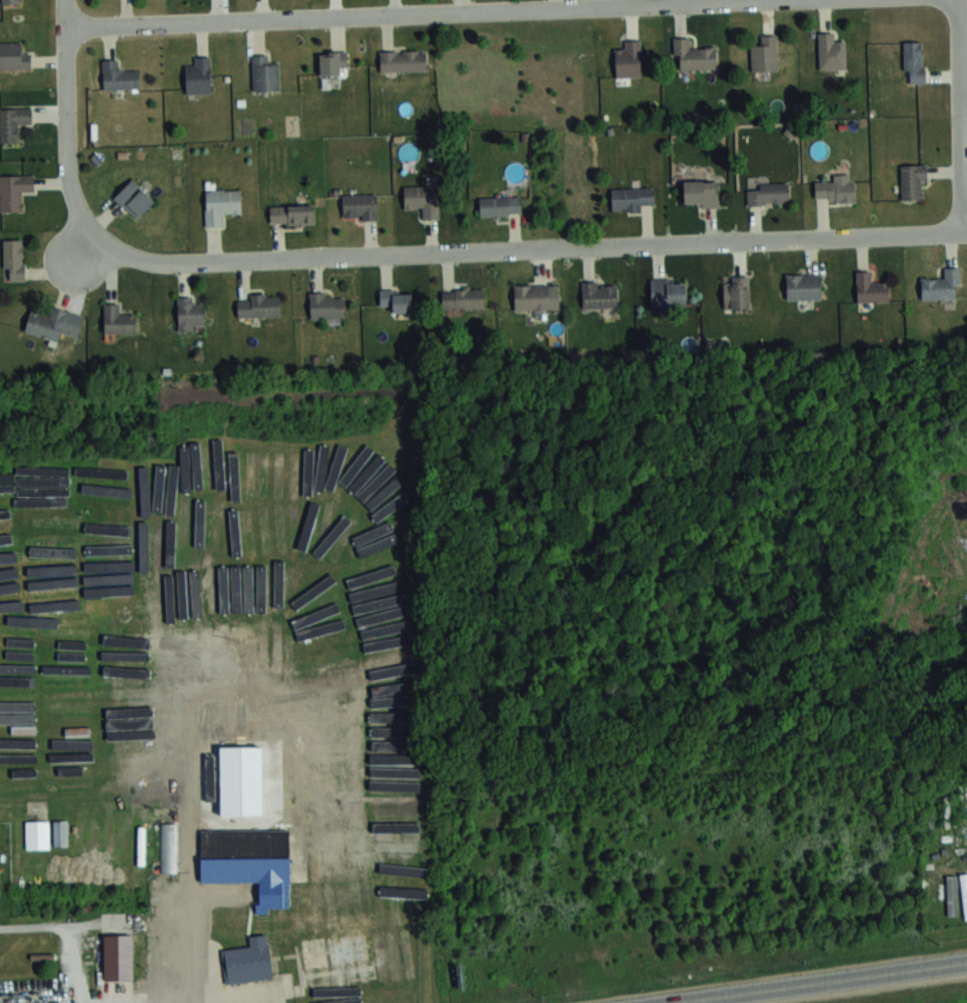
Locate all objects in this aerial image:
building: (11, 1)
road: (420, 14)
building: (830, 51)
building: (764, 55)
building: (13, 56)
building: (692, 56)
building: (402, 60)
building: (628, 60)
building: (913, 61)
building: (332, 62)
building: (265, 73)
building: (118, 75)
building: (198, 75)
road: (956, 115)
building: (13, 122)
road: (64, 128)
building: (912, 181)
building: (835, 189)
building: (14, 190)
building: (700, 193)
building: (768, 194)
building: (134, 198)
building: (631, 198)
building: (422, 199)
building: (221, 204)
building: (360, 205)
building: (500, 205)
building: (291, 214)
road: (518, 247)
building: (14, 258)
building: (941, 285)
building: (803, 286)
building: (870, 288)
building: (667, 292)
building: (735, 293)
building: (599, 294)
building: (462, 297)
building: (531, 298)
building: (395, 300)
building: (258, 304)
building: (327, 305)
building: (189, 314)
building: (118, 319)
building: (54, 323)
building: (242, 466)
building: (268, 470)
building: (292, 489)
building: (331, 510)
building: (373, 553)
building: (132, 679)
building: (144, 712)
building: (142, 739)
building: (57, 833)
building: (34, 835)
building: (165, 847)
building: (246, 862)
building: (964, 893)
building: (952, 895)
building: (171, 904)
road: (67, 932)
building: (114, 958)
road: (187, 962)
building: (244, 962)
road: (805, 981)
road: (174, 1000)

